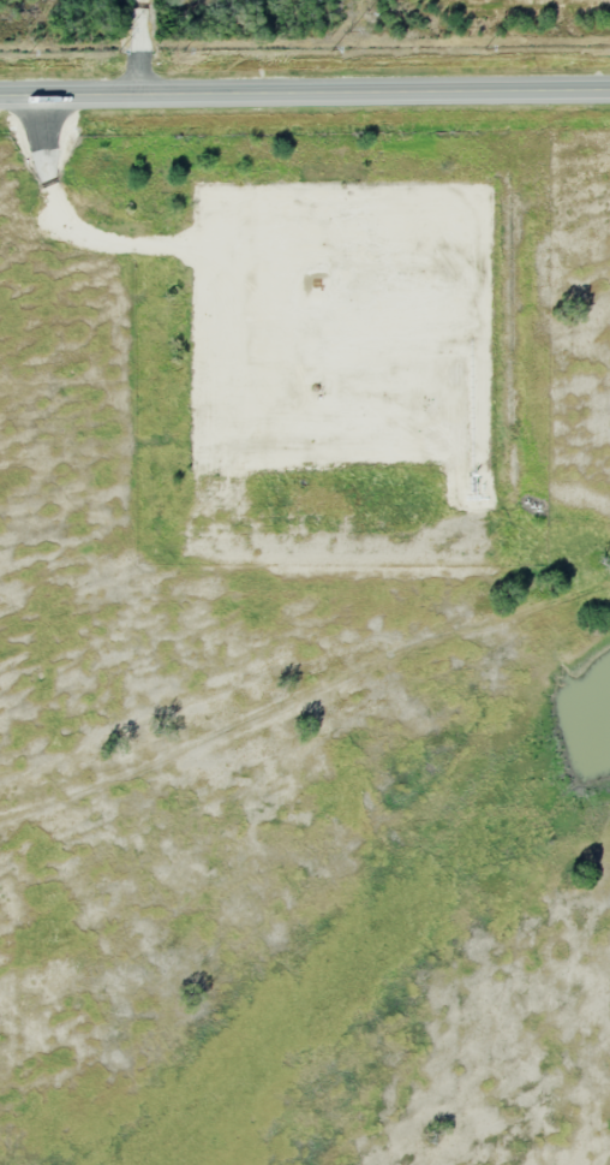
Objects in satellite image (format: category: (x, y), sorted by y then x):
road: (140, 47)
road: (304, 93)

